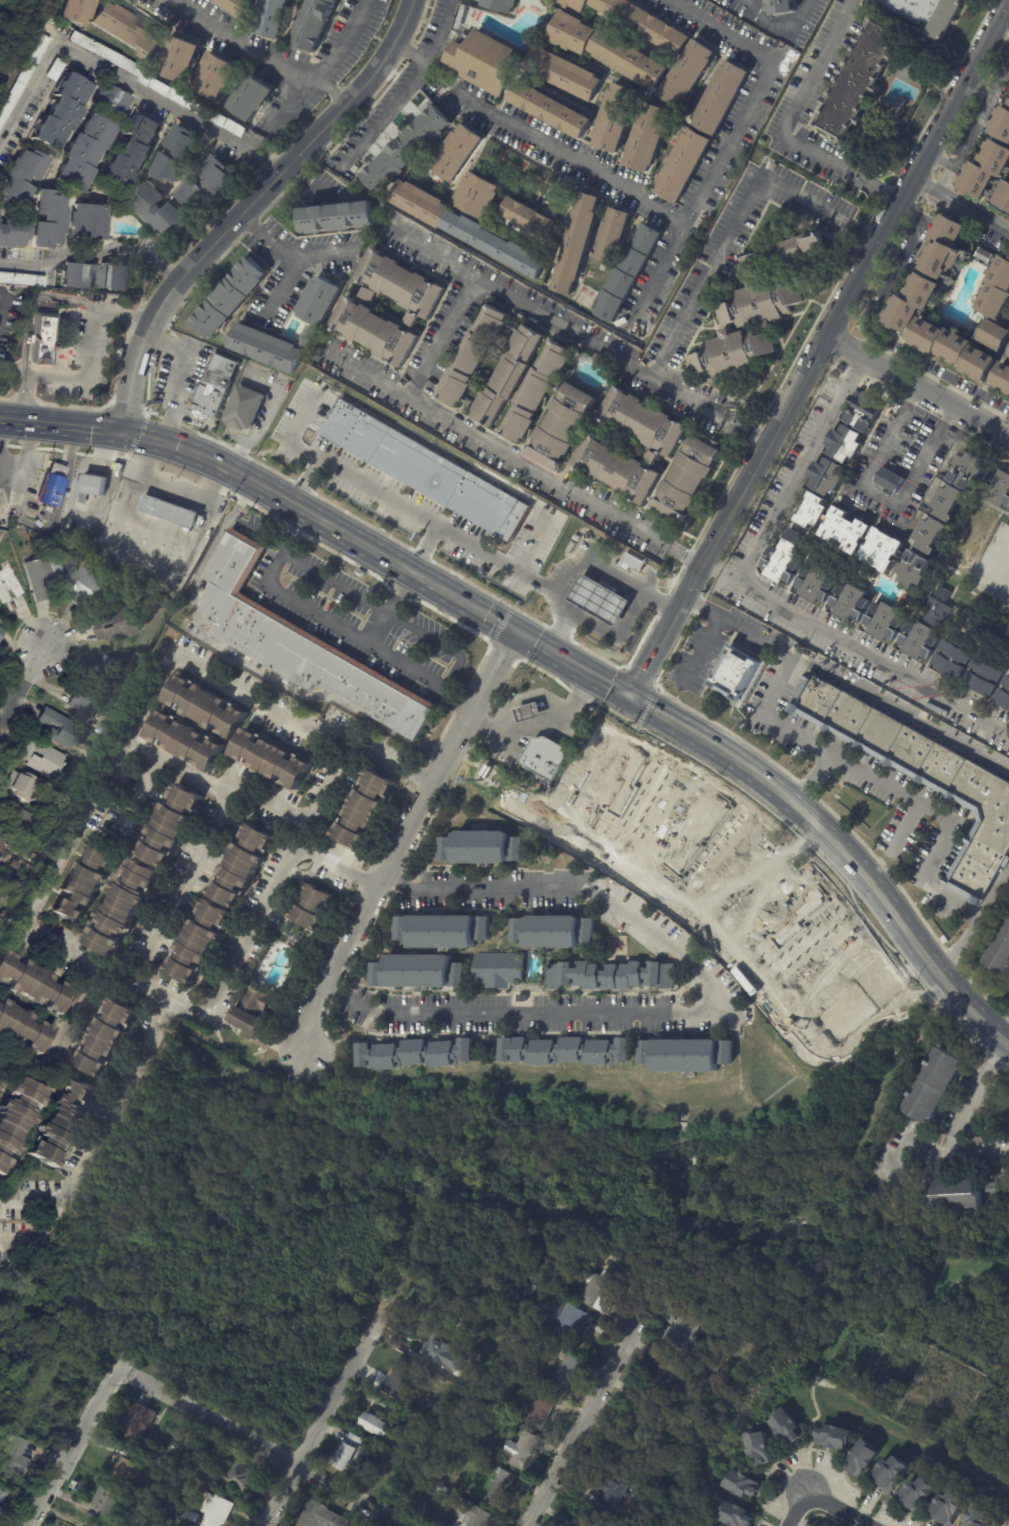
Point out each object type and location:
building: (502, 4)
building: (240, 7)
building: (783, 7)
building: (73, 11)
building: (925, 14)
building: (272, 17)
building: (638, 22)
building: (315, 23)
road: (1004, 25)
road: (777, 27)
building: (127, 31)
road: (439, 31)
building: (574, 32)
road: (345, 41)
road: (259, 54)
building: (180, 57)
building: (629, 60)
building: (910, 61)
building: (487, 62)
building: (53, 69)
building: (566, 73)
building: (687, 74)
building: (216, 75)
building: (22, 76)
road: (124, 79)
building: (857, 79)
building: (156, 83)
road: (758, 94)
building: (250, 96)
building: (719, 97)
building: (109, 100)
road: (295, 104)
building: (553, 109)
building: (60, 111)
road: (383, 115)
building: (617, 118)
building: (1001, 123)
road: (788, 128)
road: (975, 132)
road: (536, 135)
building: (648, 135)
building: (130, 150)
building: (408, 150)
building: (459, 151)
building: (82, 153)
building: (175, 155)
building: (682, 164)
building: (774, 166)
building: (360, 168)
building: (984, 169)
road: (919, 171)
building: (20, 176)
road: (307, 181)
building: (203, 184)
building: (568, 191)
building: (479, 195)
building: (1002, 197)
building: (421, 202)
road: (808, 203)
road: (249, 206)
road: (961, 206)
building: (158, 209)
building: (337, 215)
building: (533, 217)
building: (48, 219)
building: (85, 221)
building: (14, 233)
building: (613, 235)
road: (866, 235)
building: (575, 243)
building: (496, 244)
building: (943, 247)
road: (93, 250)
building: (788, 252)
road: (292, 253)
building: (982, 254)
road: (905, 258)
building: (627, 272)
building: (78, 276)
building: (113, 276)
road: (654, 277)
road: (709, 278)
building: (21, 279)
building: (403, 283)
road: (278, 288)
building: (996, 291)
building: (367, 294)
building: (229, 297)
road: (31, 300)
building: (318, 301)
building: (909, 302)
building: (759, 303)
road: (3, 310)
building: (410, 319)
road: (558, 323)
building: (374, 332)
building: (307, 336)
building: (995, 336)
building: (41, 338)
road: (445, 339)
building: (264, 346)
building: (952, 348)
building: (472, 354)
building: (730, 354)
building: (1008, 354)
building: (600, 358)
road: (87, 369)
road: (185, 374)
building: (507, 376)
building: (1001, 377)
building: (218, 386)
road: (918, 388)
building: (536, 391)
building: (248, 407)
building: (863, 409)
road: (266, 411)
building: (643, 421)
road: (62, 426)
building: (561, 427)
road: (746, 429)
building: (612, 435)
building: (844, 444)
road: (498, 448)
road: (23, 456)
building: (650, 456)
road: (220, 463)
building: (616, 468)
building: (431, 470)
building: (968, 471)
road: (803, 472)
building: (826, 476)
building: (687, 477)
road: (749, 480)
building: (891, 481)
road: (308, 482)
road: (171, 484)
building: (53, 486)
building: (93, 486)
building: (998, 489)
road: (881, 496)
building: (948, 502)
building: (158, 505)
road: (401, 505)
road: (69, 506)
building: (221, 514)
building: (214, 528)
road: (179, 533)
building: (852, 534)
building: (930, 534)
building: (579, 537)
building: (143, 539)
road: (532, 541)
building: (574, 548)
building: (1, 553)
road: (685, 556)
road: (385, 557)
building: (779, 557)
road: (582, 561)
building: (634, 562)
building: (914, 568)
road: (414, 571)
building: (43, 575)
building: (816, 583)
building: (12, 585)
building: (89, 587)
building: (605, 600)
building: (850, 602)
building: (936, 608)
road: (391, 616)
road: (489, 616)
building: (0, 618)
building: (885, 621)
building: (130, 623)
road: (339, 627)
building: (2, 632)
traffic signals: (517, 632)
road: (620, 639)
building: (918, 640)
building: (304, 643)
road: (702, 649)
road: (855, 650)
building: (950, 659)
road: (650, 660)
road: (573, 664)
building: (109, 668)
building: (732, 674)
building: (982, 676)
road: (21, 682)
road: (847, 684)
building: (1004, 695)
traffic signals: (631, 696)
building: (86, 704)
building: (206, 706)
road: (652, 708)
building: (534, 713)
road: (542, 726)
road: (303, 727)
building: (70, 728)
building: (186, 741)
building: (547, 758)
building: (273, 759)
building: (42, 760)
building: (490, 771)
building: (922, 775)
road: (814, 779)
road: (583, 780)
road: (883, 784)
building: (23, 786)
road: (99, 792)
road: (137, 797)
road: (257, 809)
building: (364, 809)
building: (14, 819)
building: (169, 824)
road: (657, 825)
road: (909, 827)
road: (410, 829)
building: (481, 847)
building: (3, 850)
building: (33, 857)
building: (14, 865)
building: (241, 865)
road: (857, 867)
building: (0, 878)
road: (728, 880)
building: (83, 882)
road: (182, 891)
building: (123, 907)
building: (312, 907)
road: (758, 909)
road: (978, 928)
building: (442, 931)
building: (553, 931)
building: (200, 941)
building: (1000, 952)
road: (811, 965)
road: (234, 968)
building: (418, 970)
building: (498, 970)
road: (753, 971)
building: (609, 975)
building: (33, 983)
building: (520, 997)
building: (250, 1010)
road: (714, 1015)
building: (22, 1027)
building: (106, 1037)
road: (309, 1041)
road: (64, 1044)
road: (1008, 1045)
building: (564, 1051)
building: (415, 1054)
building: (685, 1054)
building: (933, 1086)
building: (16, 1112)
building: (60, 1121)
road: (955, 1125)
road: (95, 1144)
road: (911, 1144)
building: (2, 1163)
building: (990, 1180)
building: (954, 1193)
road: (32, 1200)
building: (532, 1291)
building: (604, 1292)
building: (571, 1321)
building: (686, 1334)
building: (445, 1353)
building: (716, 1368)
building: (571, 1373)
building: (671, 1375)
building: (398, 1380)
building: (545, 1410)
building: (648, 1413)
building: (139, 1421)
road: (320, 1421)
road: (583, 1426)
building: (789, 1427)
building: (381, 1428)
building: (839, 1436)
road: (264, 1445)
road: (71, 1447)
building: (760, 1447)
building: (524, 1450)
building: (629, 1455)
building: (355, 1456)
building: (866, 1458)
building: (18, 1459)
building: (169, 1472)
building: (129, 1473)
building: (894, 1474)
building: (242, 1476)
building: (743, 1484)
building: (503, 1489)
building: (446, 1491)
building: (145, 1493)
building: (4, 1494)
building: (920, 1494)
building: (612, 1495)
building: (111, 1503)
building: (141, 1506)
building: (952, 1507)
road: (839, 1508)
road: (796, 1509)
building: (214, 1512)
building: (475, 1513)
building: (124, 1515)
building: (738, 1515)
building: (2, 1516)
building: (325, 1516)
building: (980, 1518)
building: (170, 1522)
building: (706, 1525)
building: (713, 1525)

